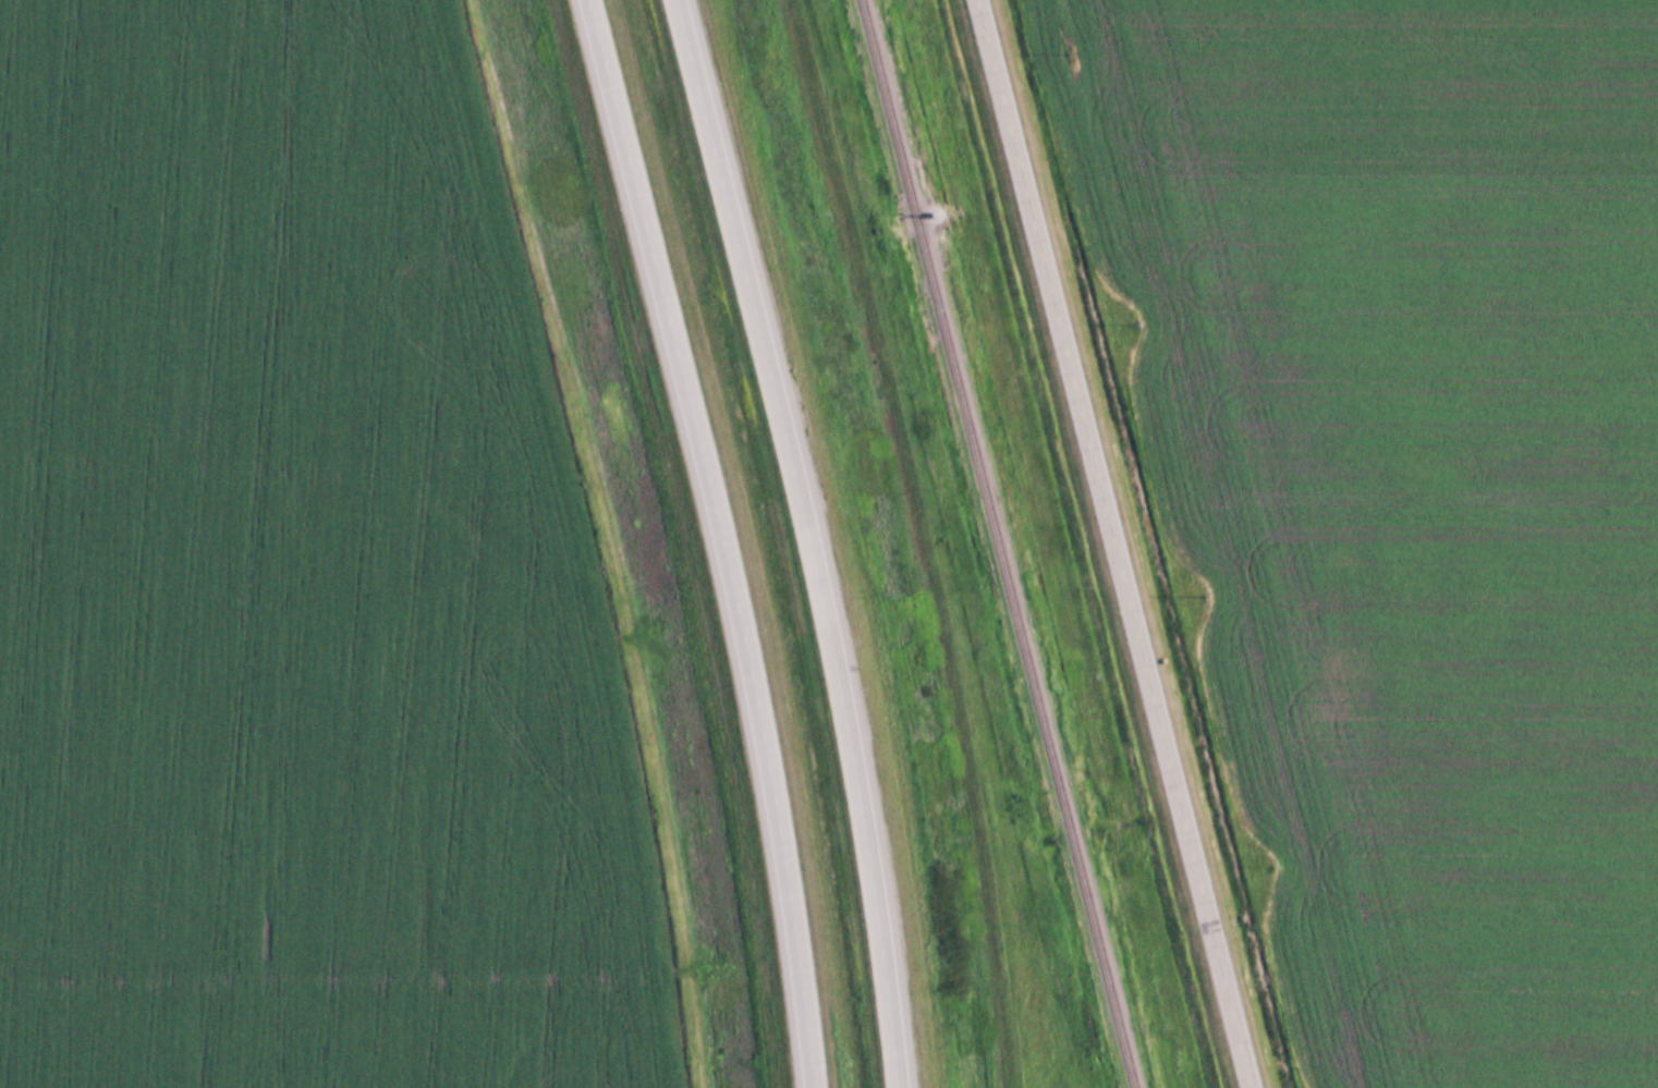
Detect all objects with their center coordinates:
road: (727, 539)
road: (815, 539)
railway: (995, 543)
road: (1118, 543)

